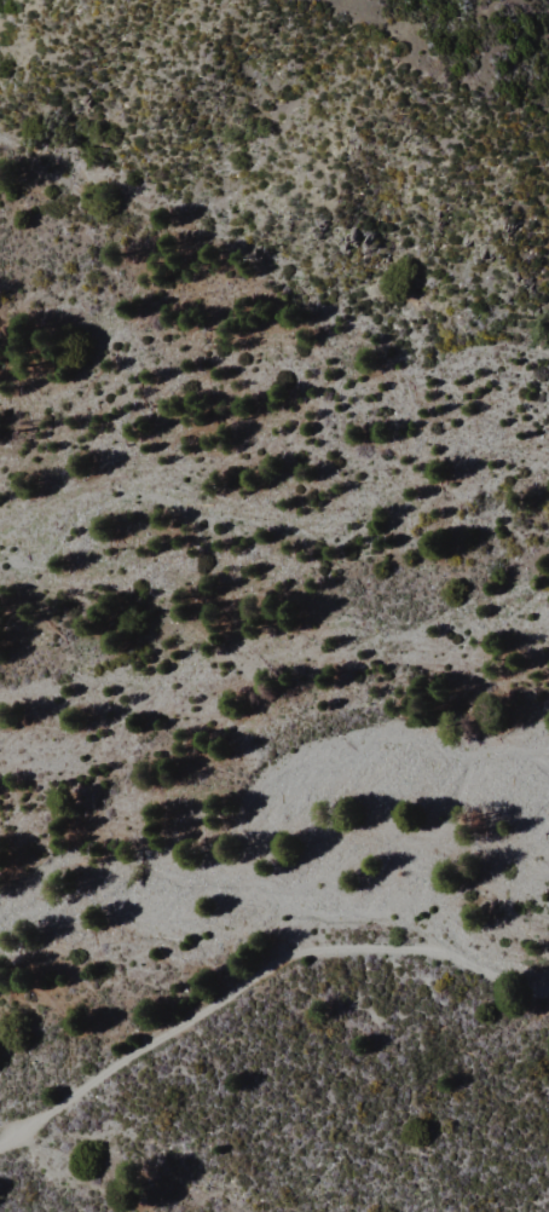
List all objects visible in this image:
road: (258, 975)

